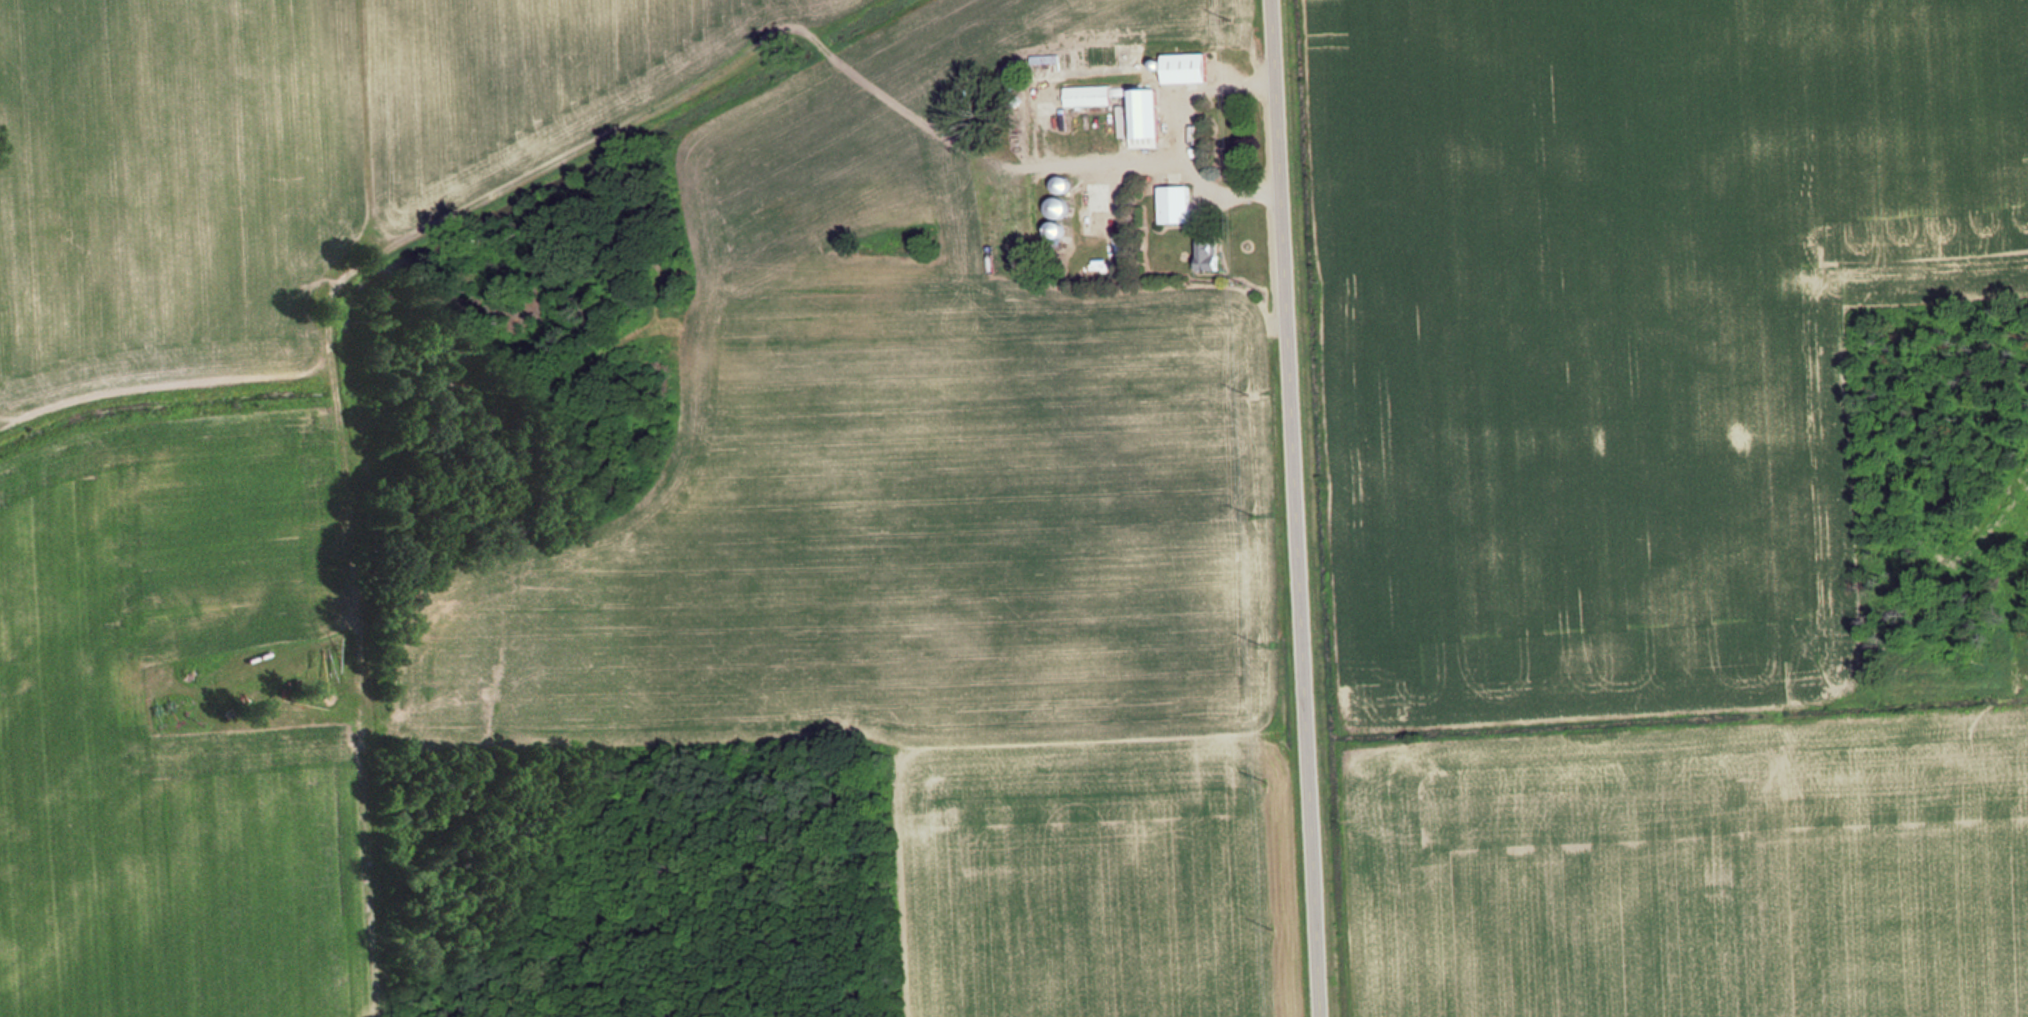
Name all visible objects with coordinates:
building: (1044, 59)
building: (1185, 68)
building: (1087, 96)
building: (1143, 118)
building: (1060, 184)
building: (1175, 204)
building: (1056, 208)
building: (1054, 230)
building: (1208, 255)
road: (1301, 508)

